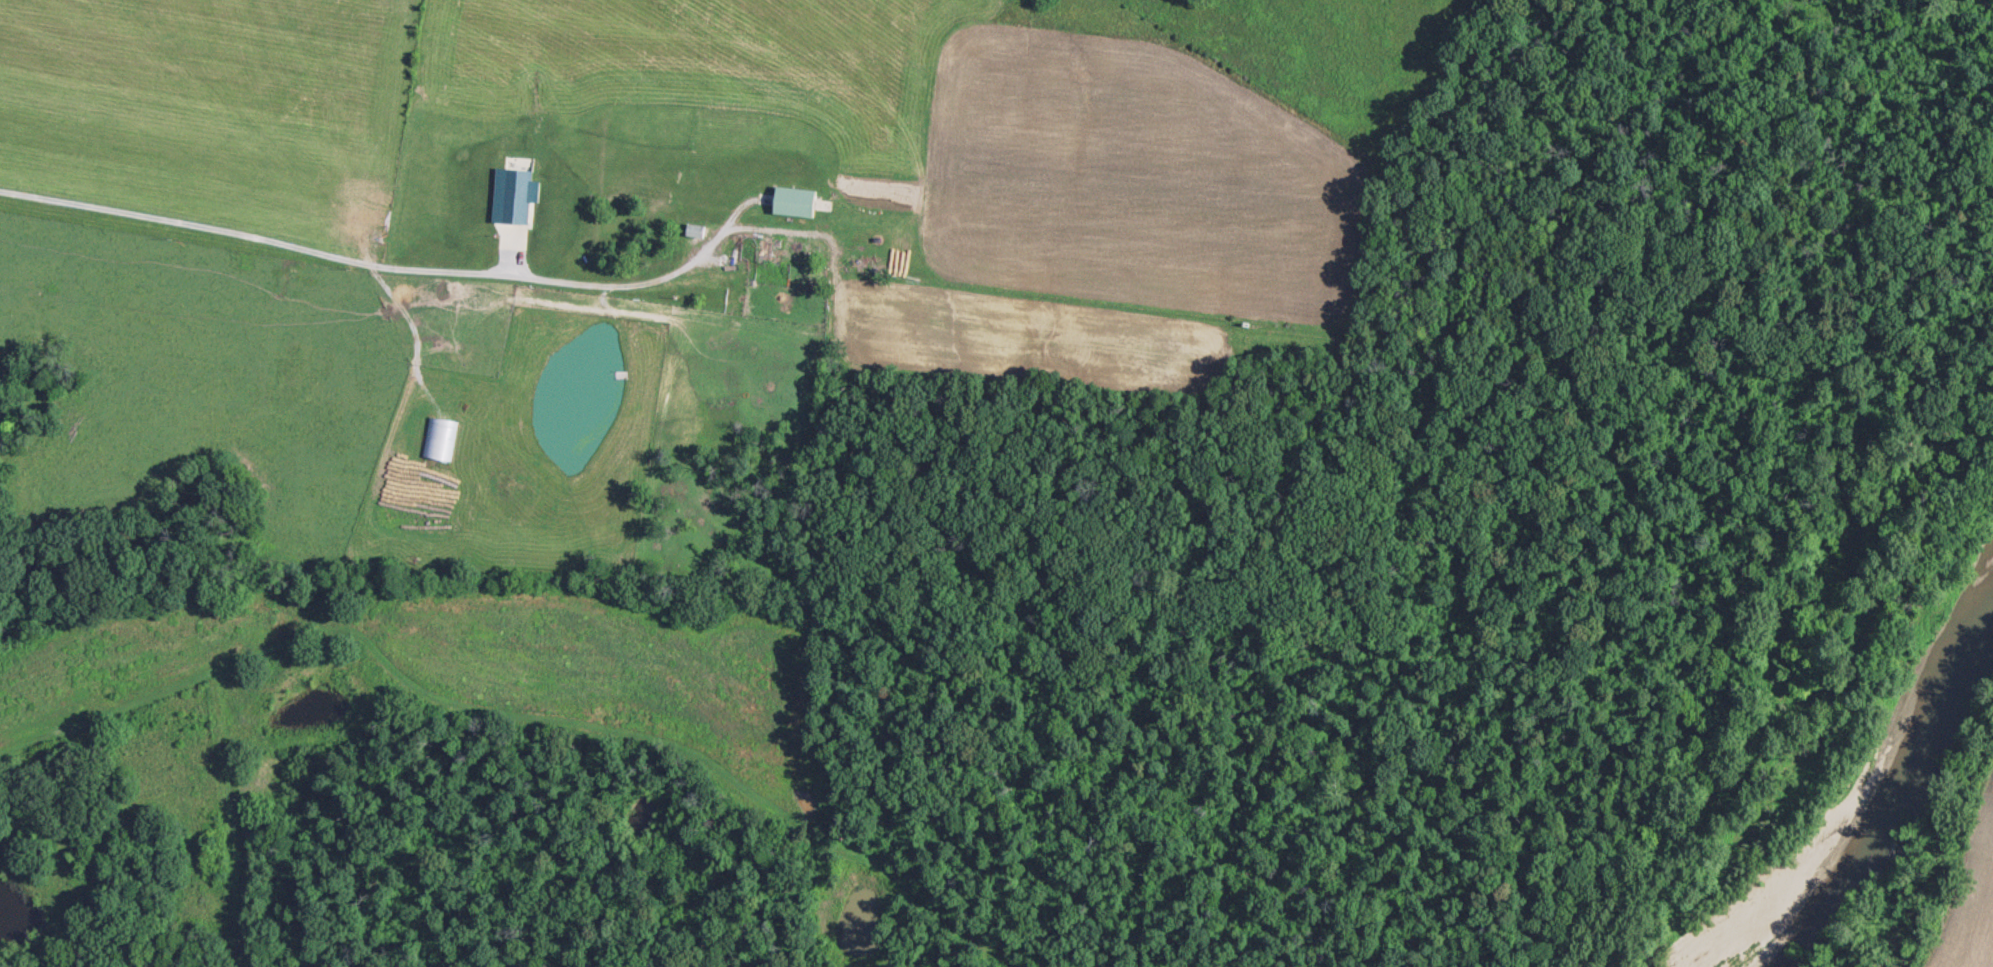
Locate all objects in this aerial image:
building: (509, 195)
building: (794, 201)
building: (693, 230)
road: (377, 268)
building: (440, 439)
river: (1870, 784)

